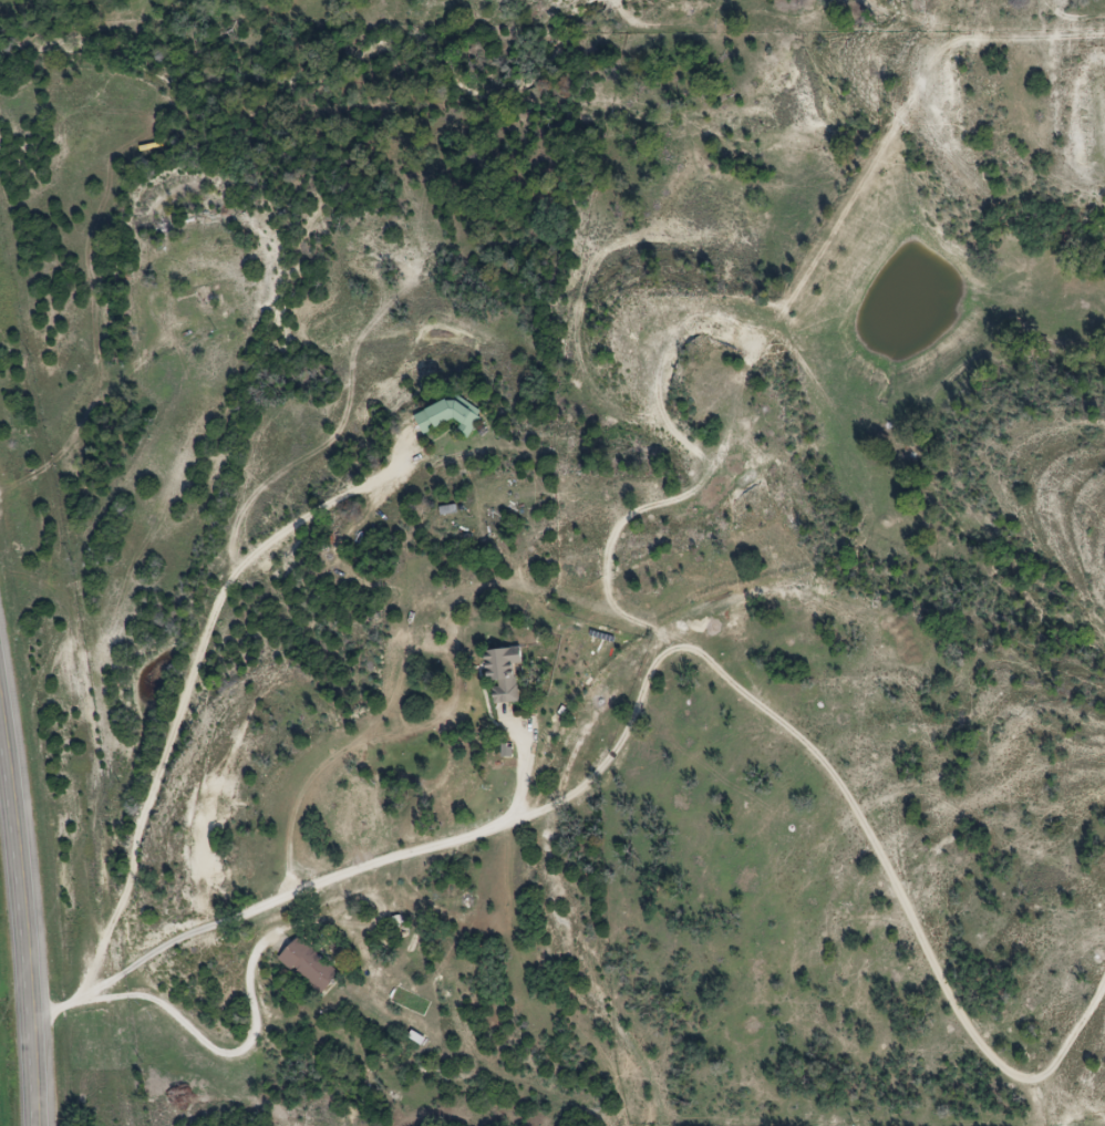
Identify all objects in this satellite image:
building: (451, 415)
road: (650, 669)
building: (508, 675)
road: (188, 676)
road: (523, 767)
road: (22, 923)
building: (313, 967)
road: (218, 1051)

